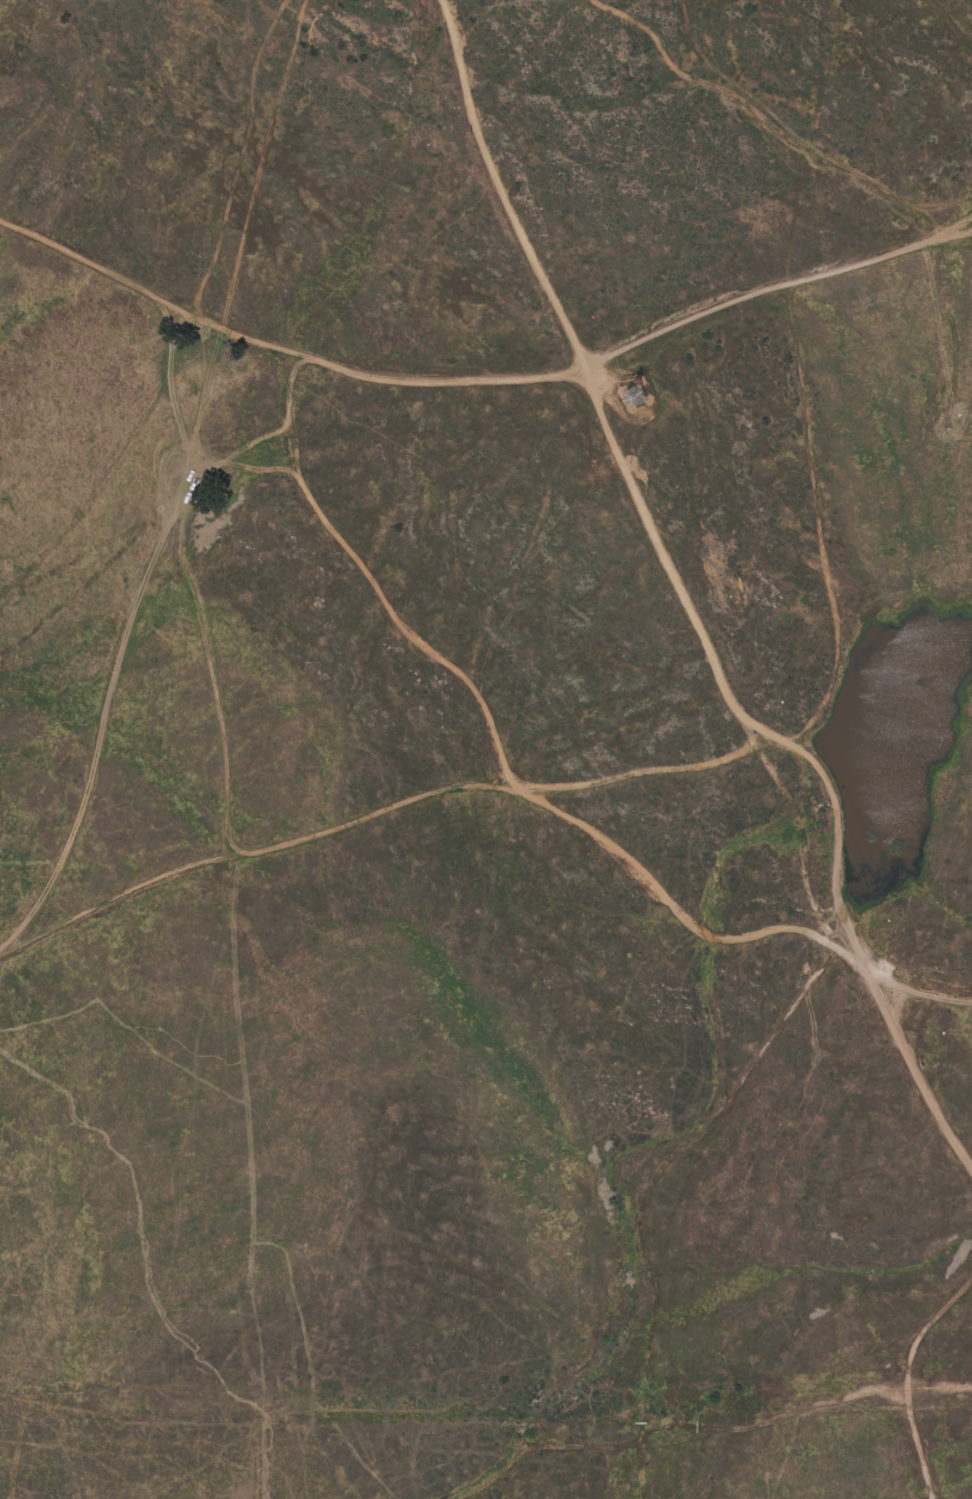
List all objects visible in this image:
road: (950, 25)
road: (750, 106)
road: (237, 160)
road: (921, 201)
road: (899, 247)
road: (483, 380)
road: (592, 381)
power tower: (650, 384)
road: (572, 782)
road: (251, 853)
road: (674, 913)
road: (923, 1083)
road: (902, 1378)
road: (63, 1476)

